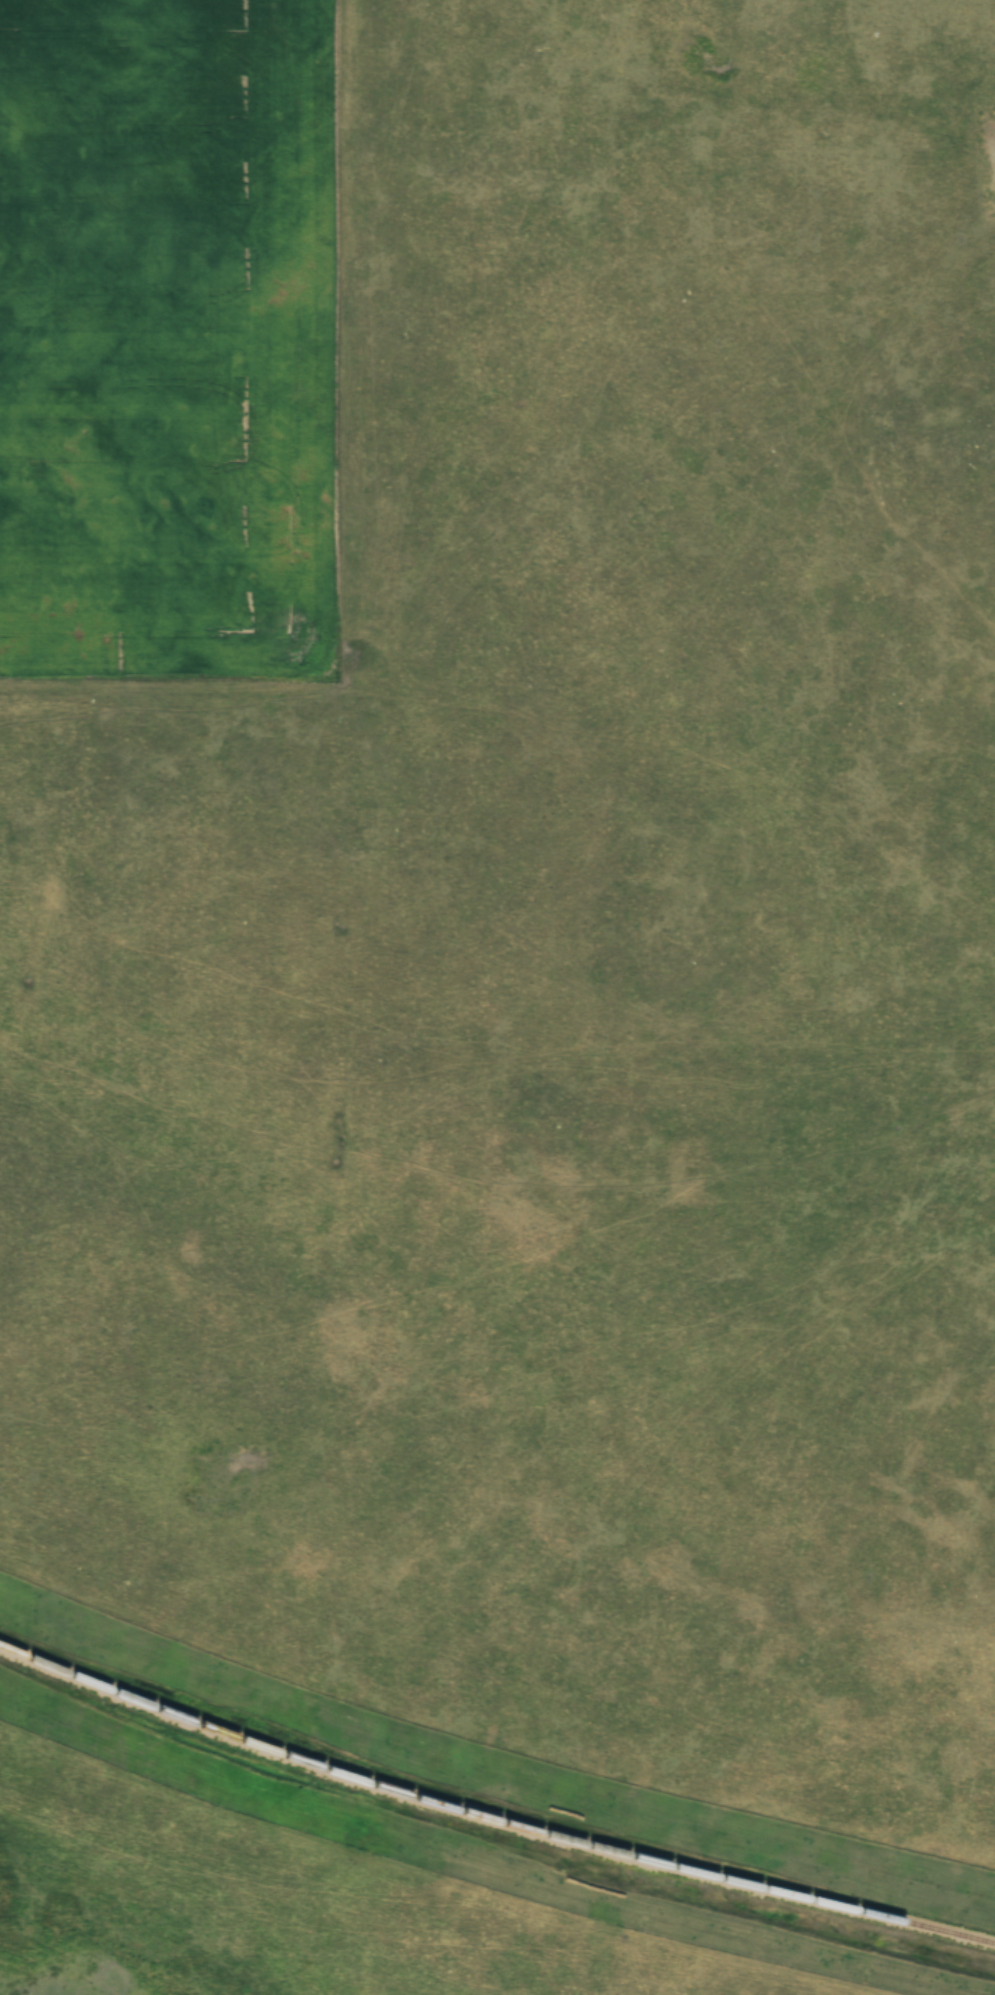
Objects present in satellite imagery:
railway: (489, 1819)

